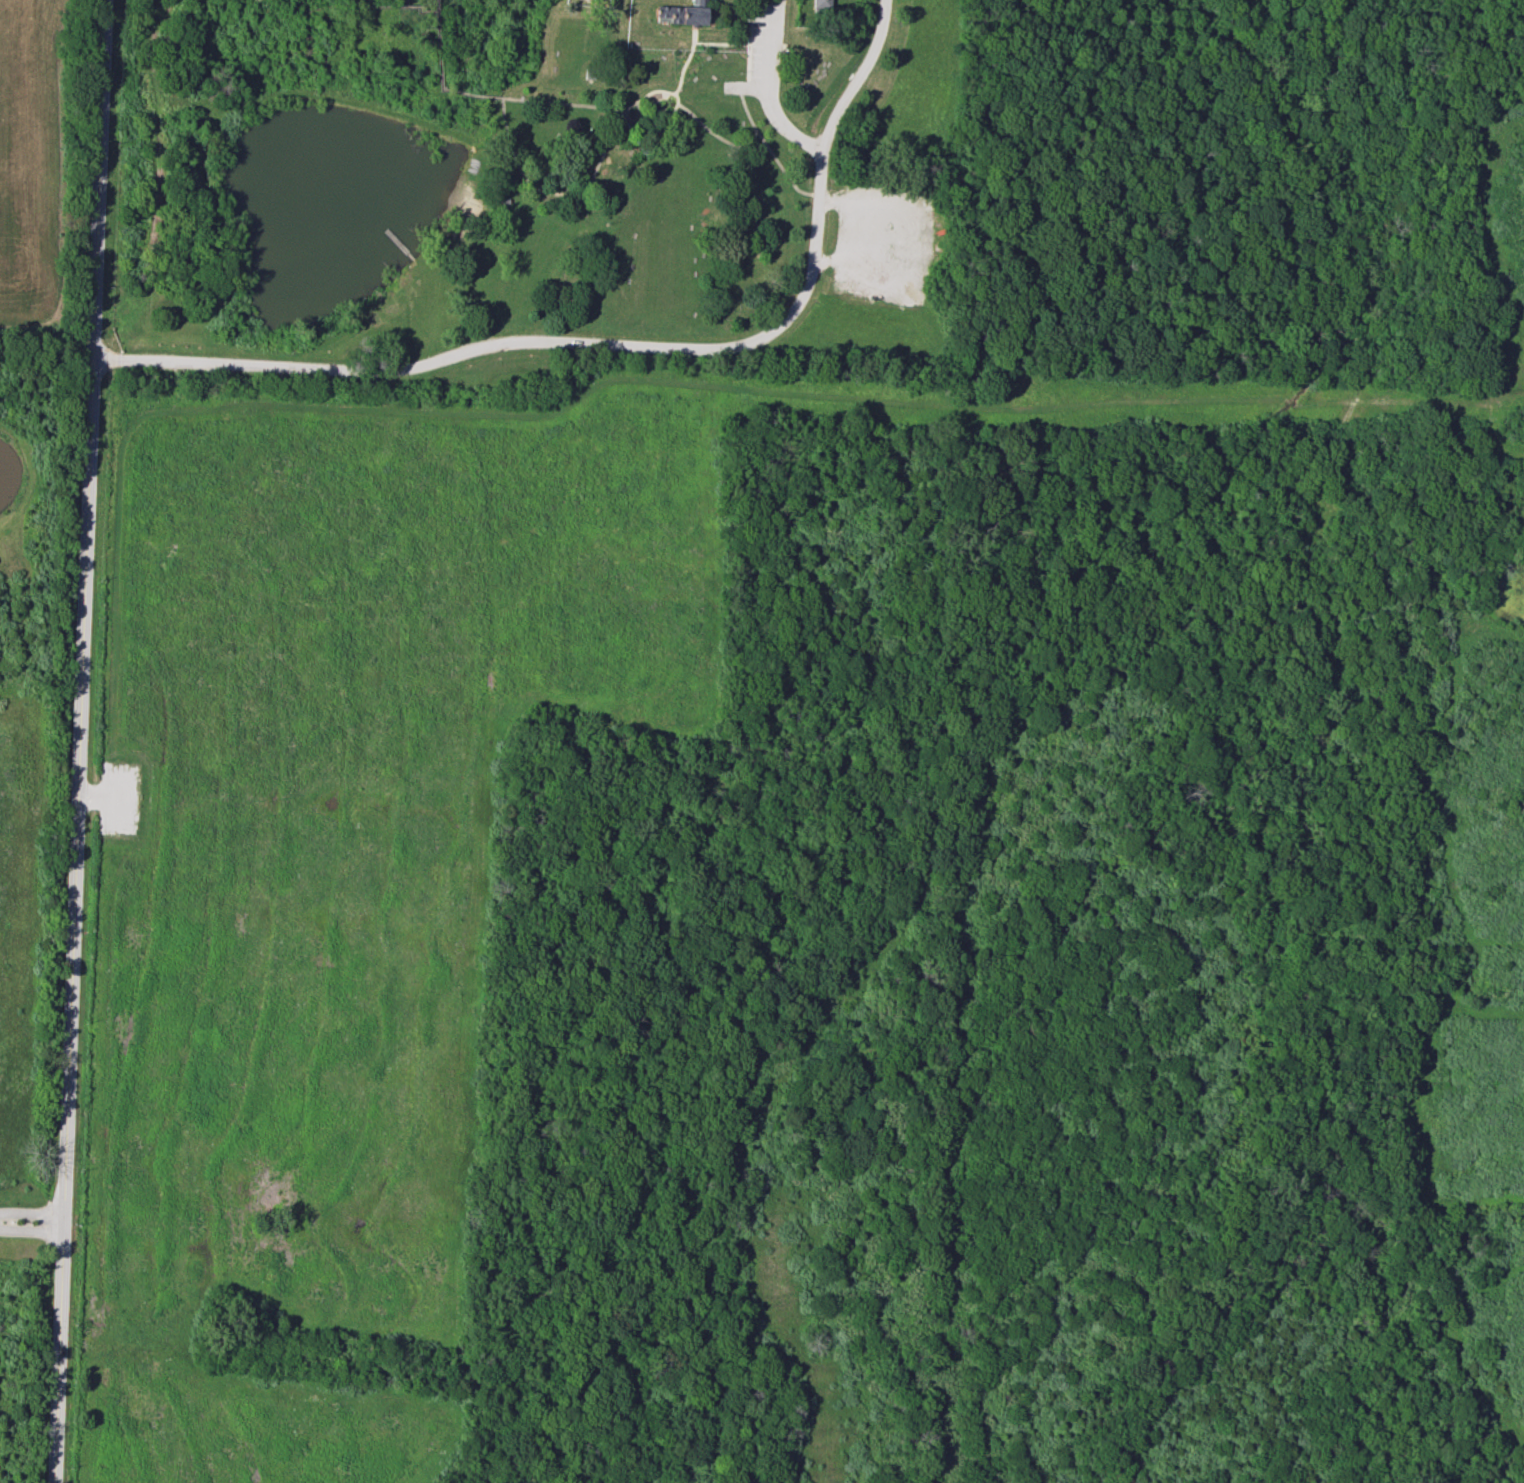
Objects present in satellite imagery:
road: (591, 1)
road: (407, 3)
road: (715, 3)
road: (405, 6)
building: (821, 6)
road: (750, 41)
road: (714, 44)
road: (443, 74)
road: (860, 74)
road: (766, 88)
road: (747, 89)
road: (330, 92)
road: (651, 94)
road: (669, 104)
road: (638, 110)
road: (651, 112)
road: (664, 114)
road: (623, 126)
road: (722, 139)
road: (157, 142)
road: (511, 148)
crop: (31, 152)
road: (1390, 152)
road: (99, 178)
road: (794, 187)
park: (644, 204)
parking lot: (882, 246)
road: (532, 340)
road: (576, 400)
park: (846, 888)
road: (76, 919)
road: (33, 1222)

